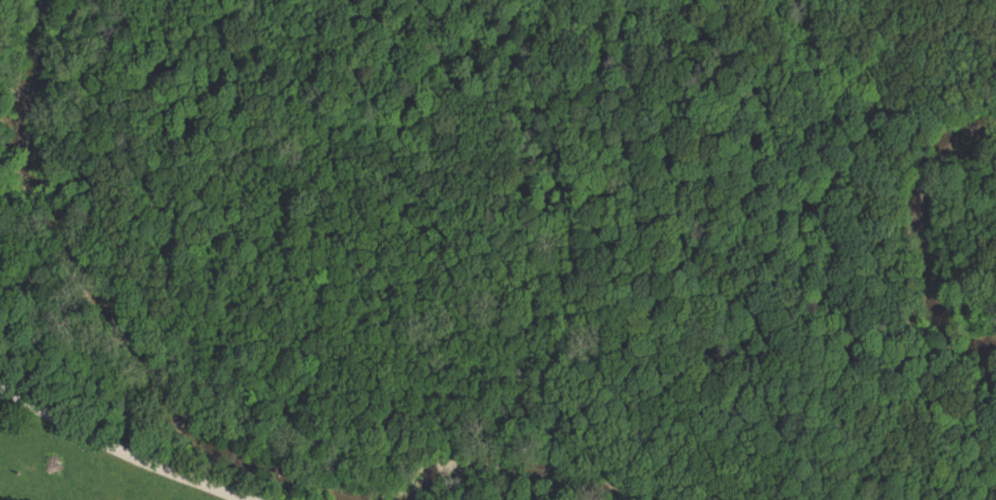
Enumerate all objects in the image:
road: (132, 445)

